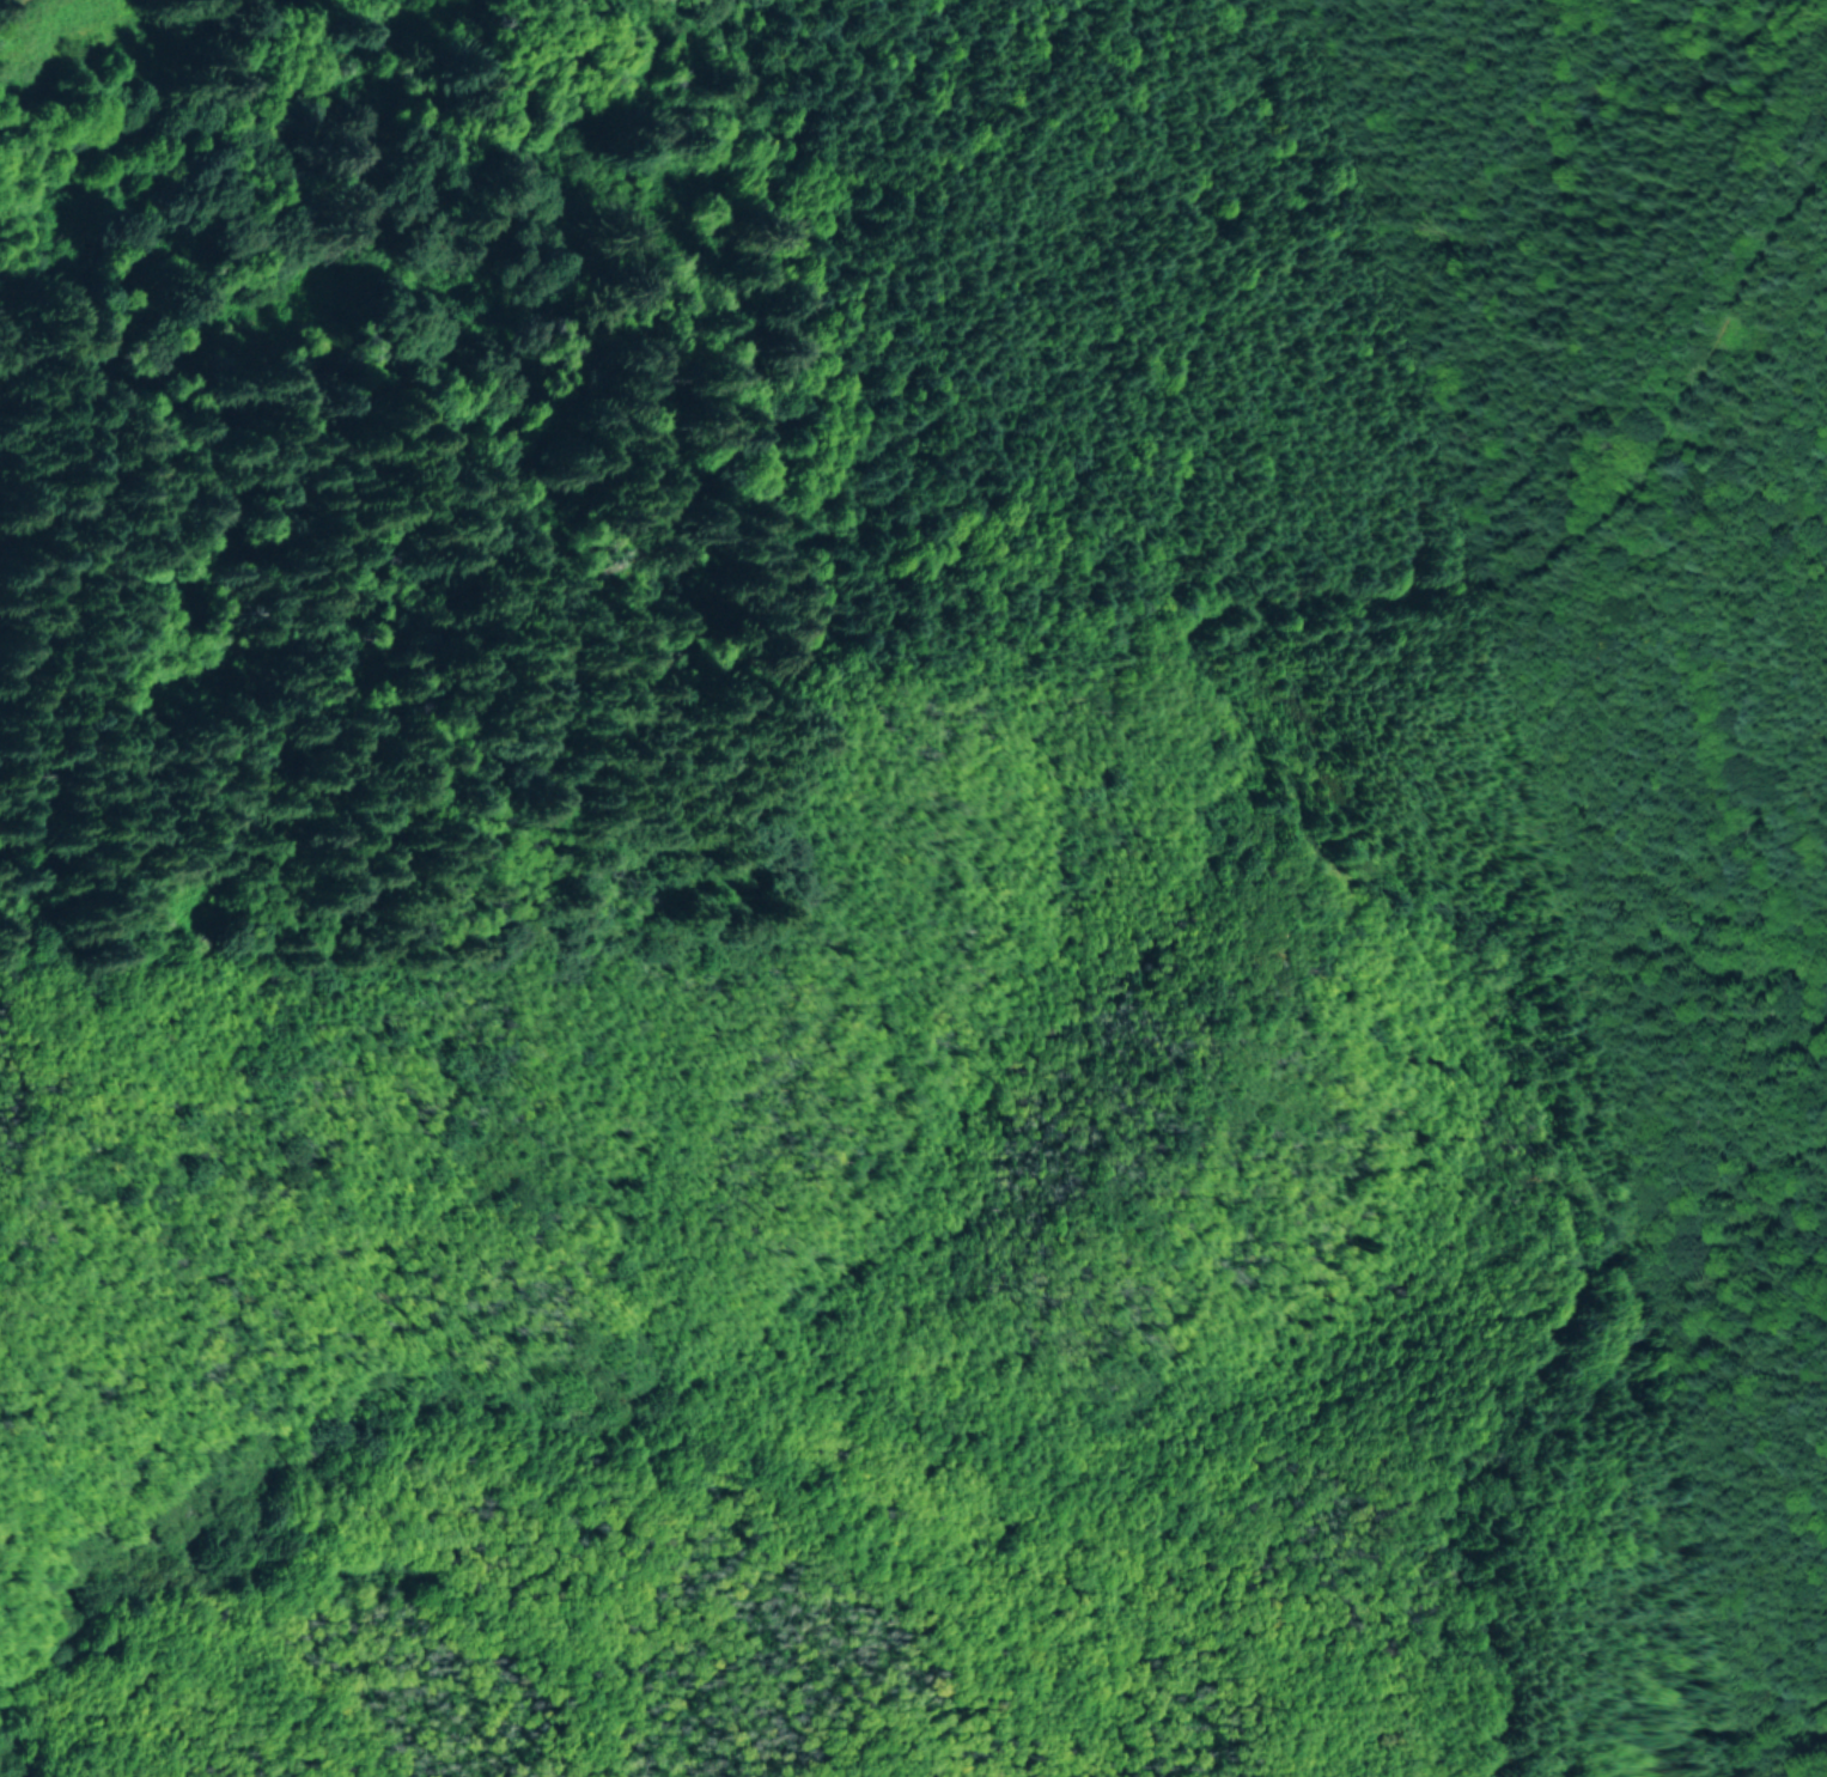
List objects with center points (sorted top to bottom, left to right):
road: (443, 345)
road: (1229, 797)

